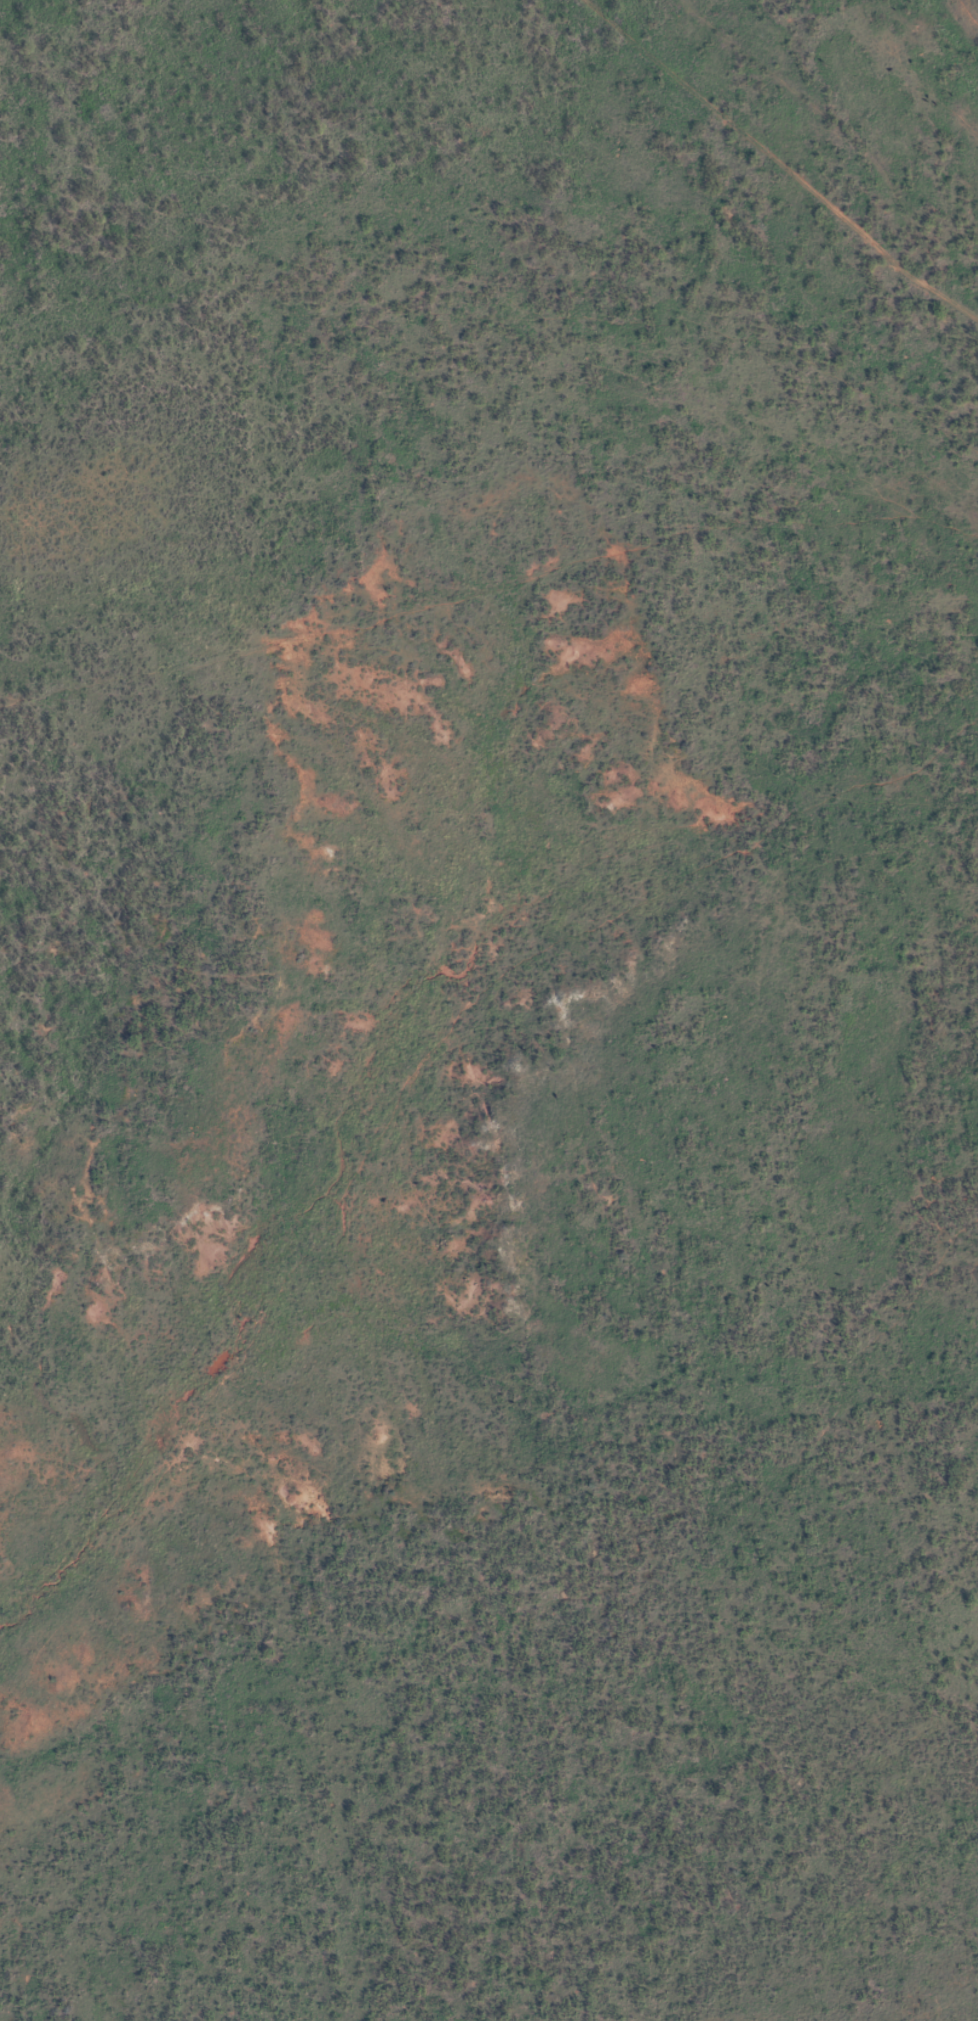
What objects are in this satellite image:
road: (808, 157)

